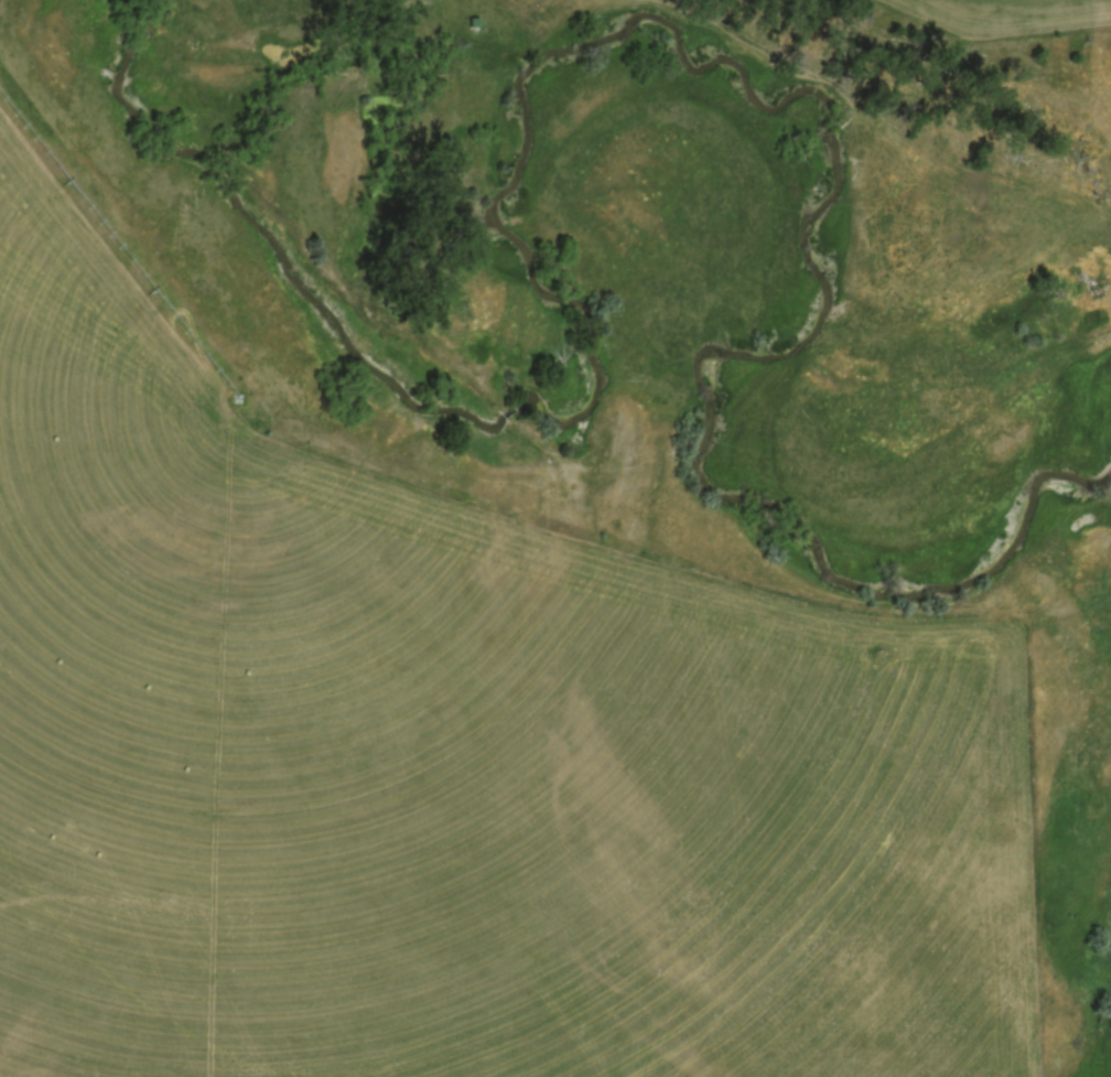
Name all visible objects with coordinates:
crop: (1002, 13)
crop: (451, 754)

